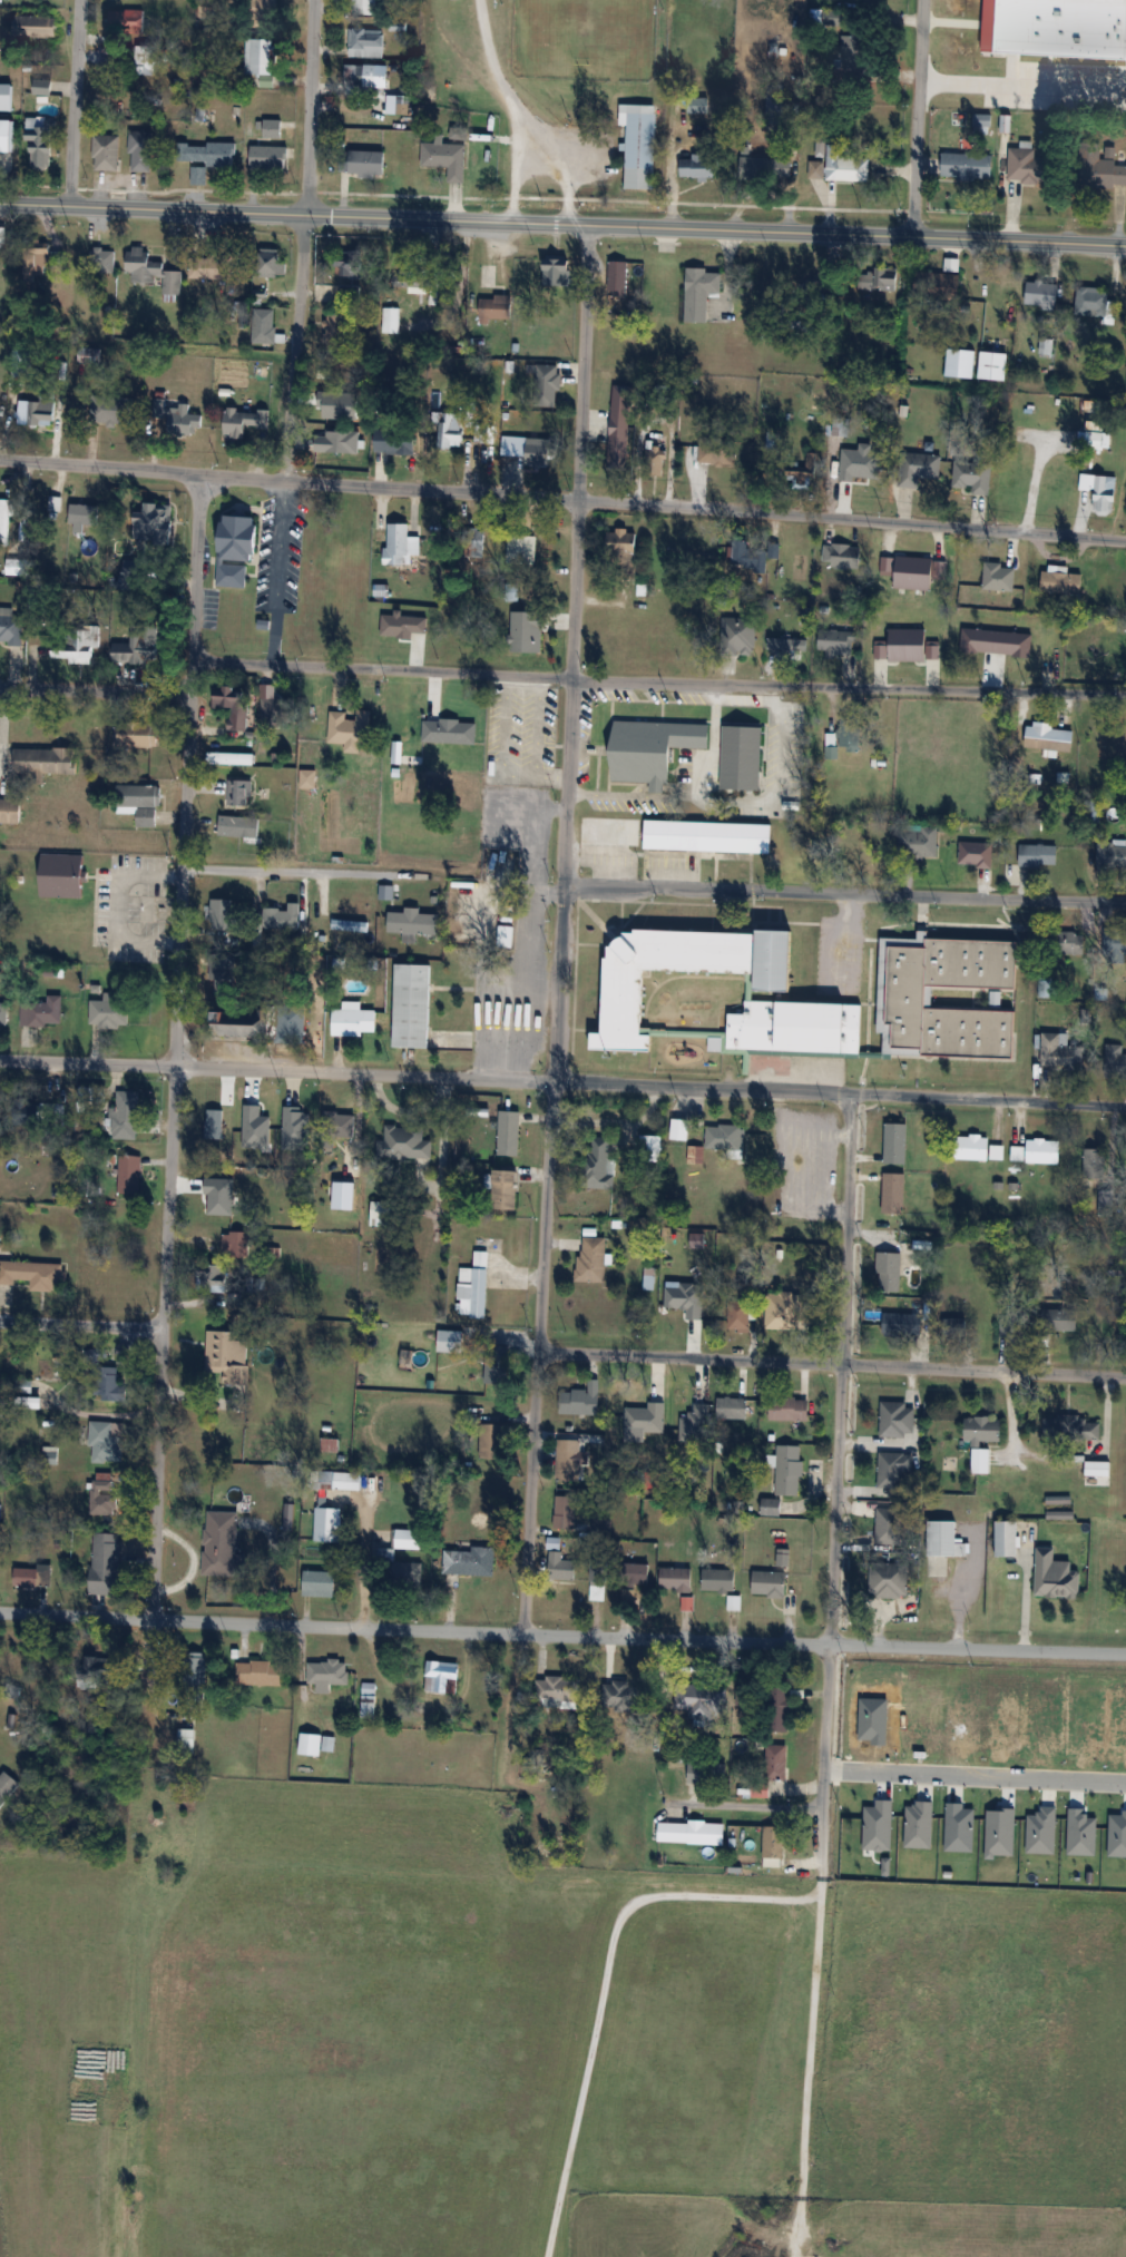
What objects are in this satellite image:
building: (1107, 0)
building: (365, 6)
building: (202, 8)
building: (1097, 11)
building: (263, 12)
building: (831, 18)
building: (135, 22)
building: (36, 27)
building: (366, 42)
building: (261, 57)
building: (854, 59)
building: (362, 76)
road: (500, 82)
building: (43, 87)
road: (1022, 88)
building: (6, 97)
road: (72, 104)
building: (774, 104)
road: (917, 118)
building: (273, 128)
building: (7, 135)
building: (40, 144)
building: (639, 145)
building: (140, 150)
building: (106, 153)
building: (205, 154)
building: (265, 157)
building: (445, 158)
road: (544, 160)
building: (366, 163)
building: (845, 166)
building: (967, 166)
building: (1028, 166)
building: (696, 167)
building: (760, 168)
building: (815, 169)
building: (1106, 173)
road: (562, 224)
road: (303, 239)
building: (37, 258)
building: (102, 261)
building: (272, 263)
building: (349, 264)
building: (209, 268)
building: (558, 271)
building: (154, 272)
building: (880, 277)
building: (618, 278)
building: (420, 284)
building: (938, 285)
building: (701, 293)
building: (1041, 294)
building: (350, 295)
building: (1093, 302)
building: (496, 308)
building: (391, 321)
building: (264, 326)
building: (335, 334)
building: (21, 363)
building: (992, 365)
building: (547, 385)
building: (112, 410)
building: (37, 413)
building: (184, 422)
building: (244, 422)
building: (331, 426)
building: (451, 430)
building: (483, 431)
building: (395, 441)
building: (532, 450)
building: (724, 451)
building: (616, 460)
building: (654, 462)
building: (920, 468)
building: (862, 469)
building: (805, 471)
building: (972, 477)
building: (1099, 492)
road: (562, 498)
building: (82, 513)
building: (4, 521)
building: (154, 522)
building: (403, 539)
building: (473, 543)
building: (623, 547)
building: (237, 549)
building: (849, 557)
building: (936, 557)
building: (751, 558)
building: (130, 573)
building: (999, 578)
building: (1061, 583)
building: (11, 628)
building: (532, 635)
building: (738, 636)
building: (838, 642)
building: (979, 642)
building: (76, 645)
building: (138, 645)
building: (786, 645)
road: (559, 678)
building: (238, 709)
building: (350, 727)
building: (450, 730)
building: (850, 733)
building: (138, 734)
building: (1050, 737)
building: (1112, 739)
building: (653, 748)
building: (742, 756)
building: (231, 757)
building: (45, 760)
building: (238, 792)
road: (737, 797)
building: (140, 801)
building: (10, 809)
building: (493, 817)
building: (239, 826)
building: (610, 830)
building: (708, 834)
building: (919, 841)
building: (976, 854)
building: (1038, 854)
building: (1112, 855)
road: (287, 867)
building: (62, 875)
road: (845, 894)
road: (119, 905)
building: (221, 913)
building: (284, 917)
building: (412, 921)
building: (349, 924)
road: (562, 929)
building: (1114, 940)
building: (1071, 941)
building: (221, 975)
building: (1046, 989)
building: (626, 994)
building: (905, 999)
building: (412, 1003)
building: (109, 1010)
building: (42, 1012)
building: (3, 1013)
building: (353, 1021)
building: (242, 1022)
building: (291, 1023)
road: (175, 1047)
building: (1060, 1051)
road: (562, 1081)
building: (88, 1092)
building: (126, 1115)
building: (342, 1125)
building: (679, 1129)
building: (509, 1132)
building: (726, 1137)
building: (405, 1141)
building: (895, 1142)
building: (972, 1146)
building: (649, 1148)
building: (1042, 1150)
building: (600, 1160)
building: (1094, 1162)
building: (351, 1168)
building: (129, 1174)
building: (505, 1189)
building: (893, 1193)
building: (383, 1213)
building: (205, 1243)
building: (236, 1243)
building: (593, 1260)
building: (889, 1270)
building: (33, 1274)
building: (215, 1277)
building: (480, 1285)
building: (783, 1305)
building: (684, 1306)
building: (738, 1313)
building: (1063, 1319)
building: (895, 1324)
road: (80, 1325)
building: (1014, 1329)
building: (449, 1341)
building: (226, 1357)
road: (832, 1363)
building: (110, 1385)
building: (580, 1400)
building: (732, 1407)
building: (790, 1409)
building: (897, 1419)
building: (1060, 1427)
building: (983, 1430)
building: (492, 1441)
building: (107, 1442)
building: (568, 1460)
building: (980, 1461)
building: (789, 1470)
building: (894, 1472)
building: (1097, 1473)
building: (346, 1480)
road: (835, 1483)
building: (104, 1493)
building: (771, 1507)
building: (565, 1511)
building: (1060, 1515)
building: (603, 1522)
building: (327, 1524)
building: (889, 1527)
building: (1006, 1538)
building: (409, 1539)
building: (946, 1540)
building: (222, 1547)
road: (187, 1561)
road: (365, 1561)
building: (470, 1561)
building: (108, 1564)
building: (560, 1566)
building: (638, 1573)
building: (402, 1574)
building: (32, 1576)
building: (1056, 1576)
building: (599, 1579)
building: (676, 1579)
building: (888, 1579)
building: (718, 1580)
building: (320, 1583)
building: (768, 1583)
road: (562, 1635)
building: (99, 1671)
building: (261, 1672)
building: (329, 1672)
building: (441, 1677)
building: (559, 1689)
building: (368, 1699)
building: (701, 1701)
building: (777, 1709)
building: (186, 1740)
building: (315, 1744)
building: (776, 1762)
building: (707, 1773)
road: (976, 1774)
building: (6, 1786)
building: (761, 1790)
road: (748, 1804)
building: (691, 1833)
building: (773, 1845)

